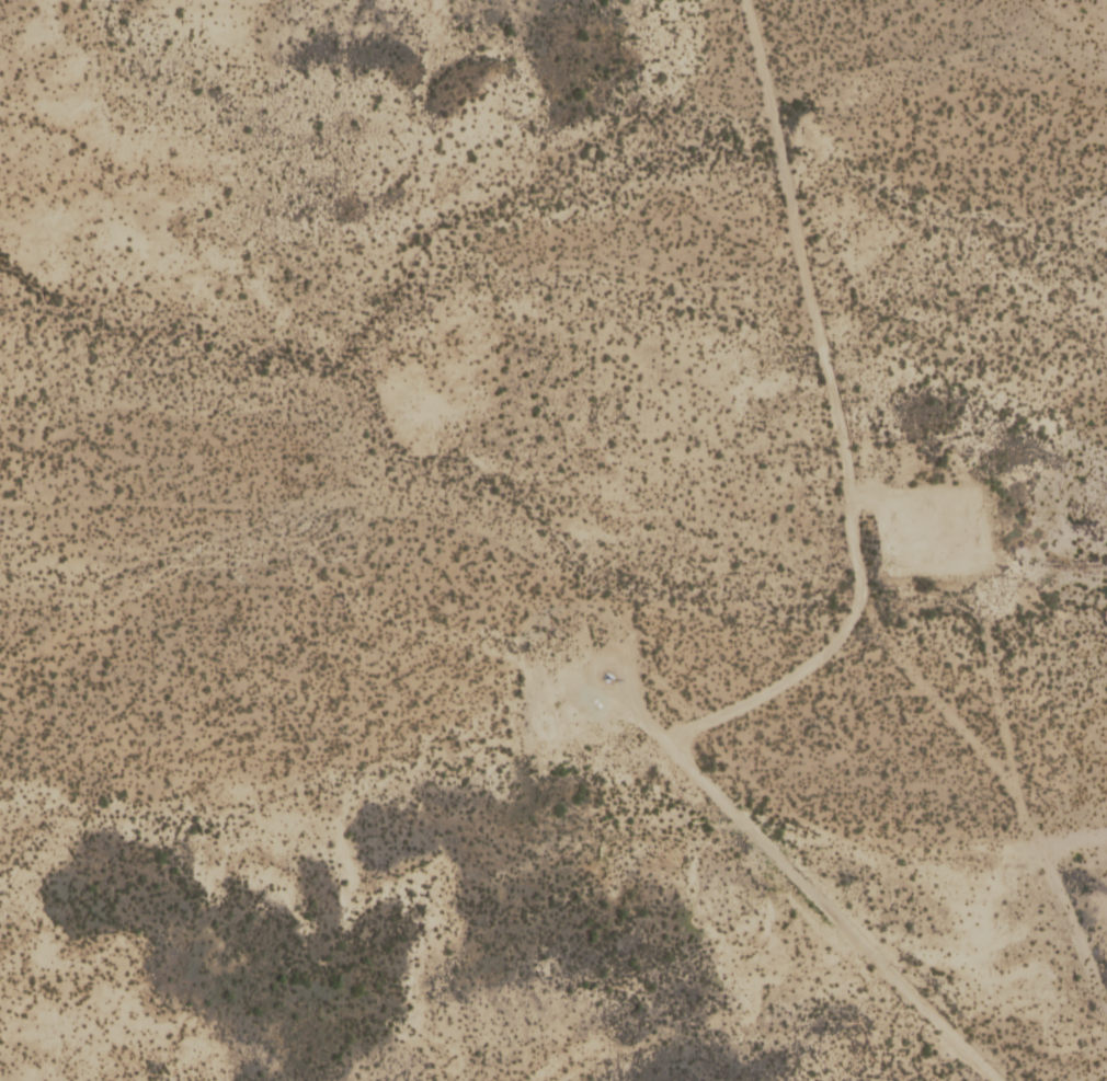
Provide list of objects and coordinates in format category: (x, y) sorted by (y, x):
building: (604, 642)
storage tank: (604, 642)

